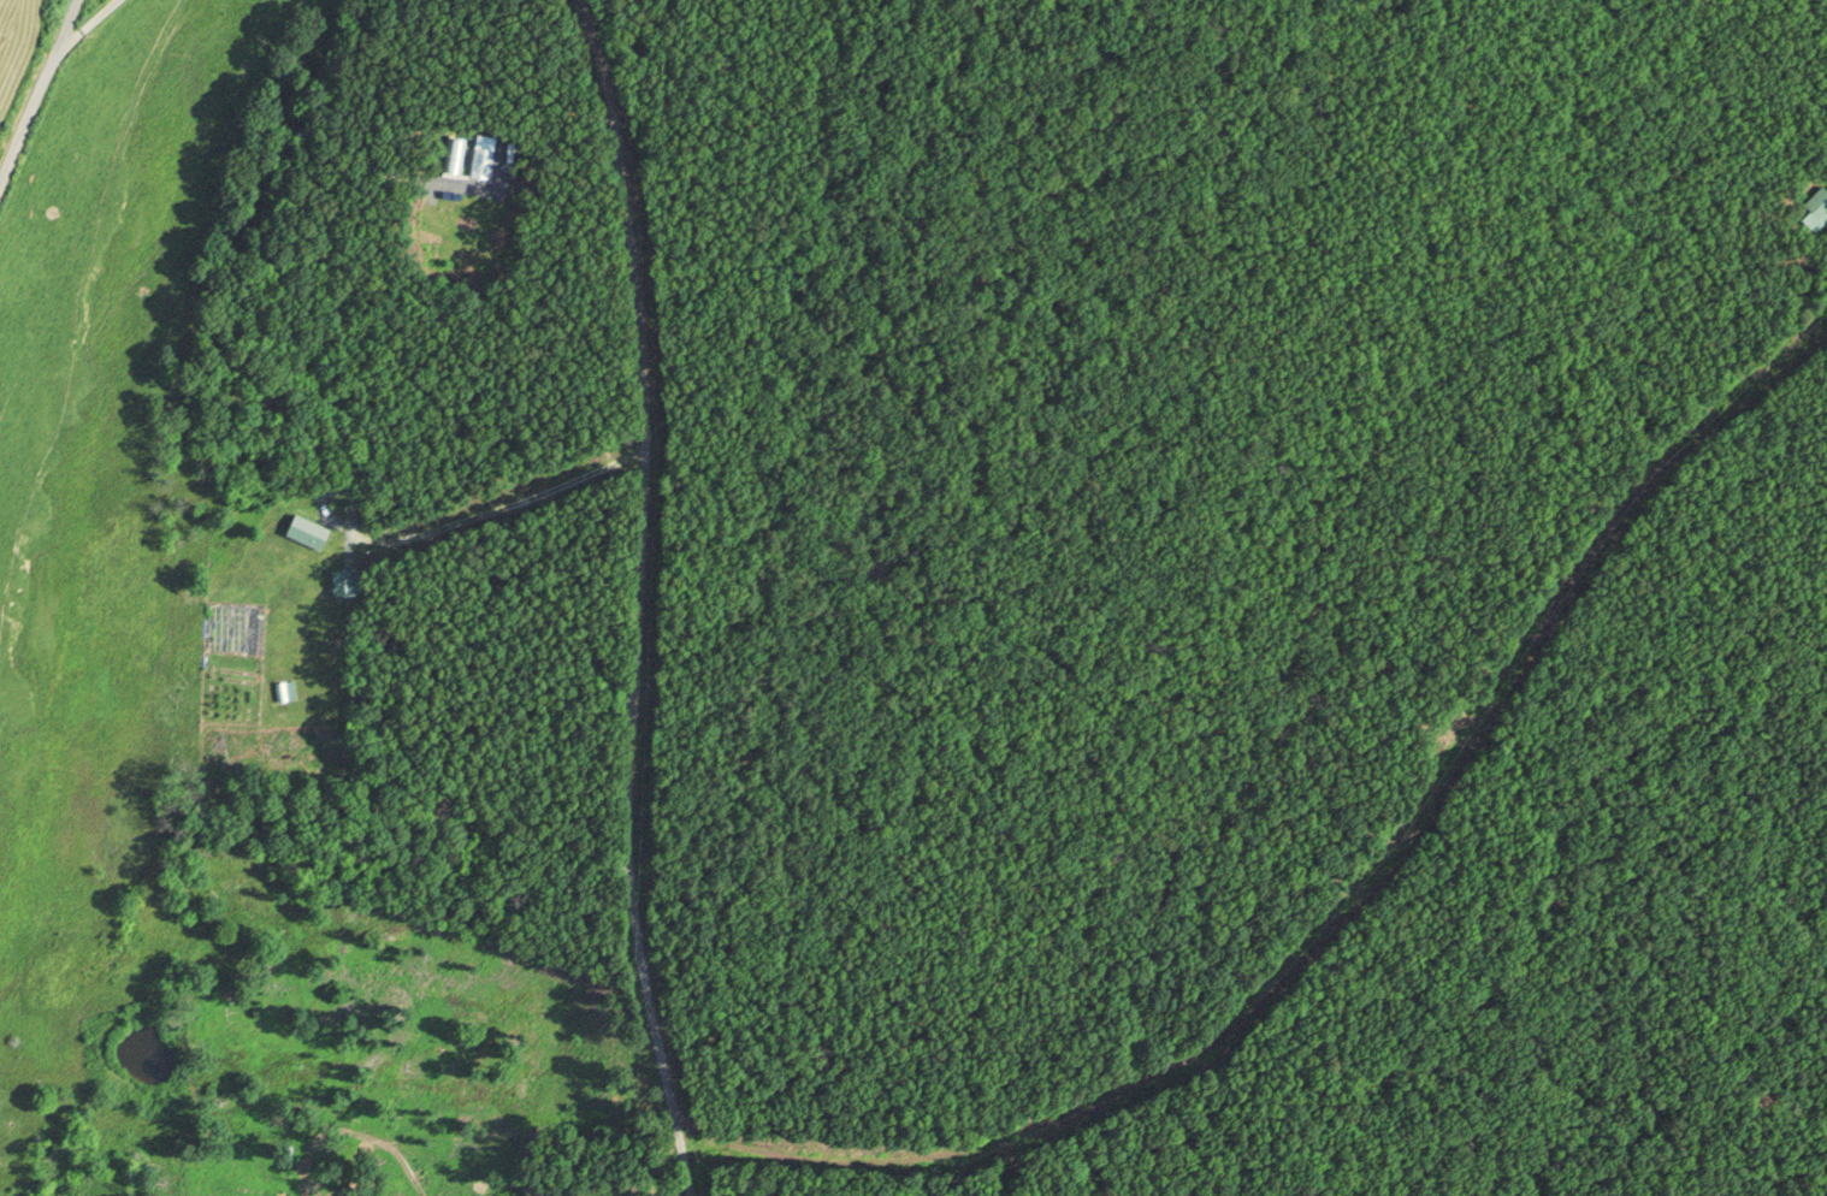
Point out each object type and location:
road: (89, 23)
road: (41, 94)
building: (1815, 208)
road: (639, 597)
road: (1355, 906)

